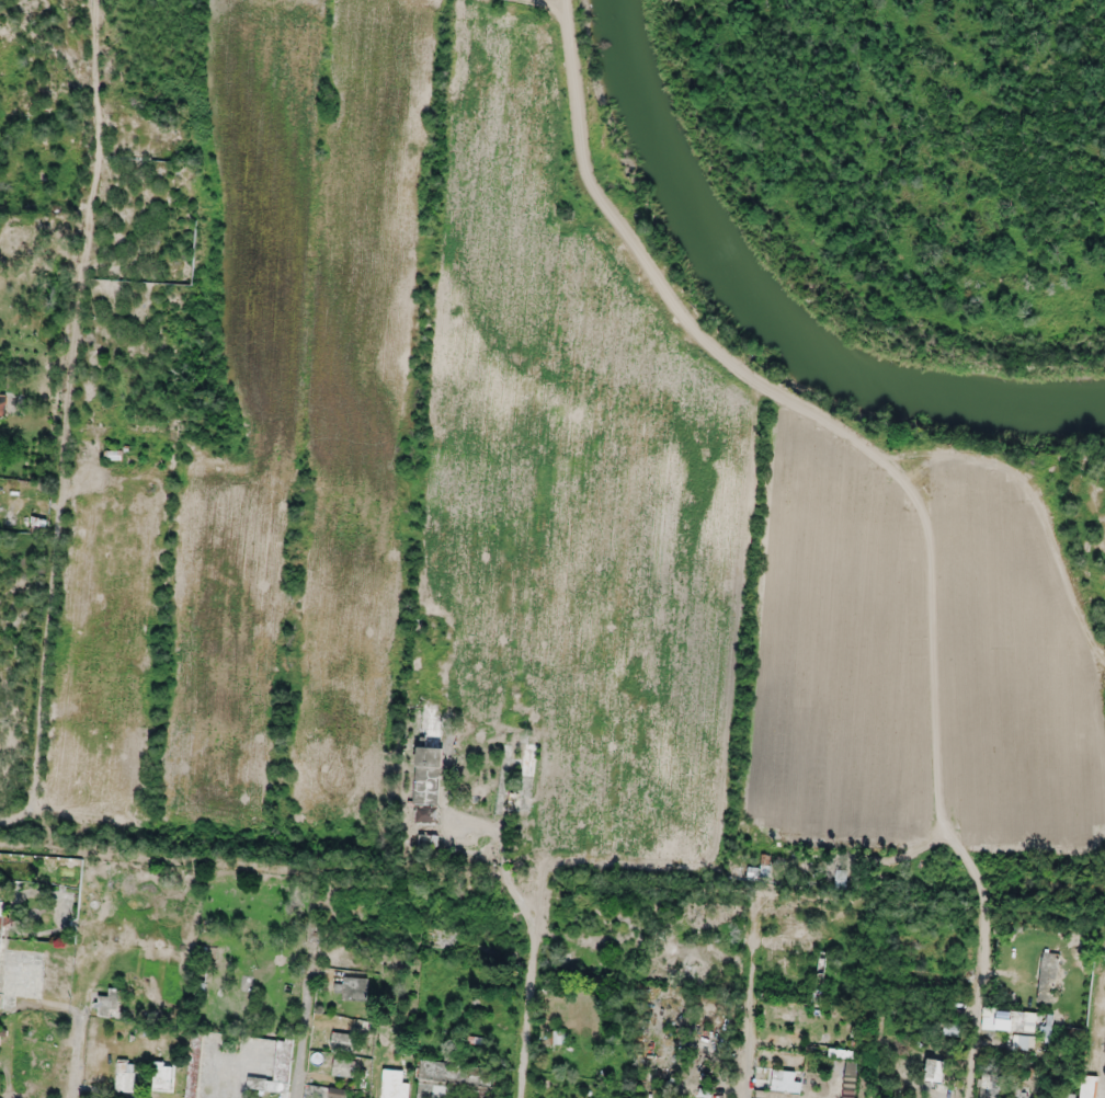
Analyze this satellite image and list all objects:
road: (545, 5)
road: (560, 5)
road: (93, 171)
river: (778, 311)
road: (789, 409)
road: (1032, 516)
road: (56, 573)
road: (21, 817)
building: (194, 1083)

